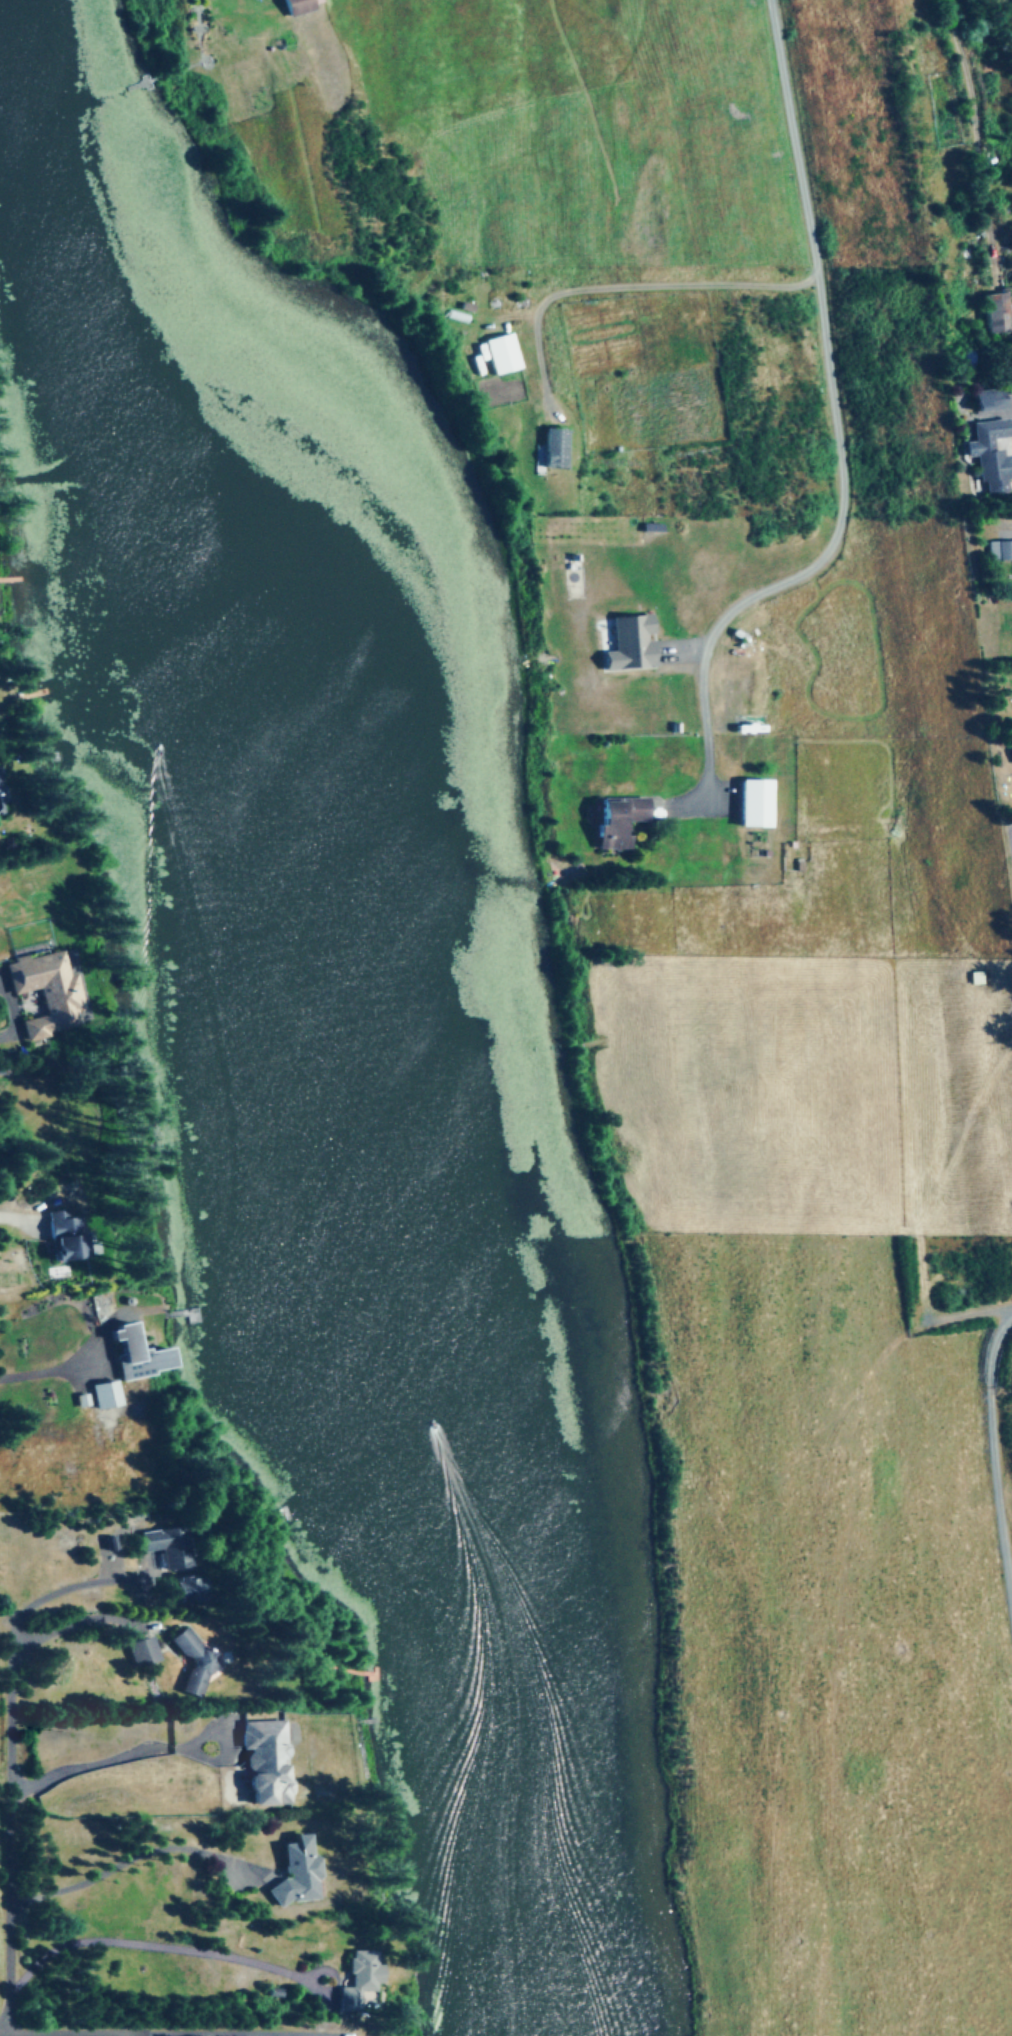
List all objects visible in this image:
road: (1010, 0)
building: (295, 7)
building: (142, 86)
road: (800, 133)
building: (992, 158)
road: (630, 285)
building: (999, 312)
building: (506, 364)
building: (554, 447)
building: (990, 453)
building: (999, 549)
road: (811, 572)
building: (695, 584)
building: (754, 803)
building: (616, 821)
building: (48, 993)
road: (49, 1162)
road: (0, 1206)
road: (969, 1315)
building: (137, 1354)
building: (106, 1394)
road: (998, 1431)
building: (169, 1546)
building: (186, 1589)
building: (142, 1651)
building: (195, 1663)
road: (13, 1759)
building: (266, 1763)
building: (295, 1873)
building: (356, 1983)
road: (126, 2033)
road: (125, 2034)

